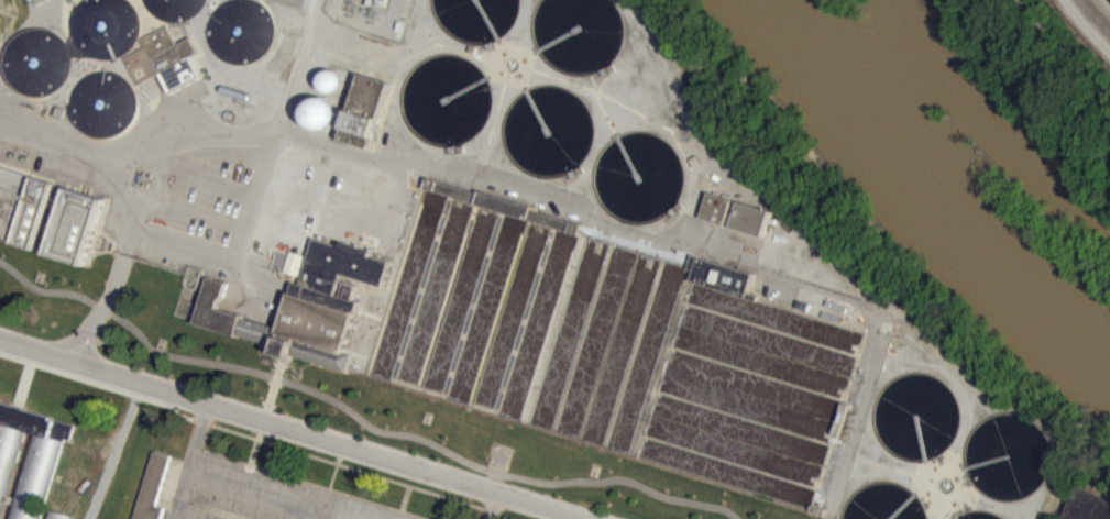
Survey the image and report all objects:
building: (372, 14)
power substation: (372, 14)
road: (1088, 24)
road: (1062, 49)
building: (164, 58)
building: (364, 110)
building: (321, 121)
river: (932, 180)
building: (502, 203)
building: (717, 207)
building: (47, 214)
road: (127, 214)
building: (751, 218)
wastewater plant: (592, 234)
building: (289, 270)
building: (721, 275)
building: (307, 305)
crop: (915, 415)
road: (295, 427)
crop: (1005, 455)
building: (45, 463)
building: (154, 490)
crop: (882, 503)
building: (1088, 505)
crop: (978, 515)
building: (51, 518)

